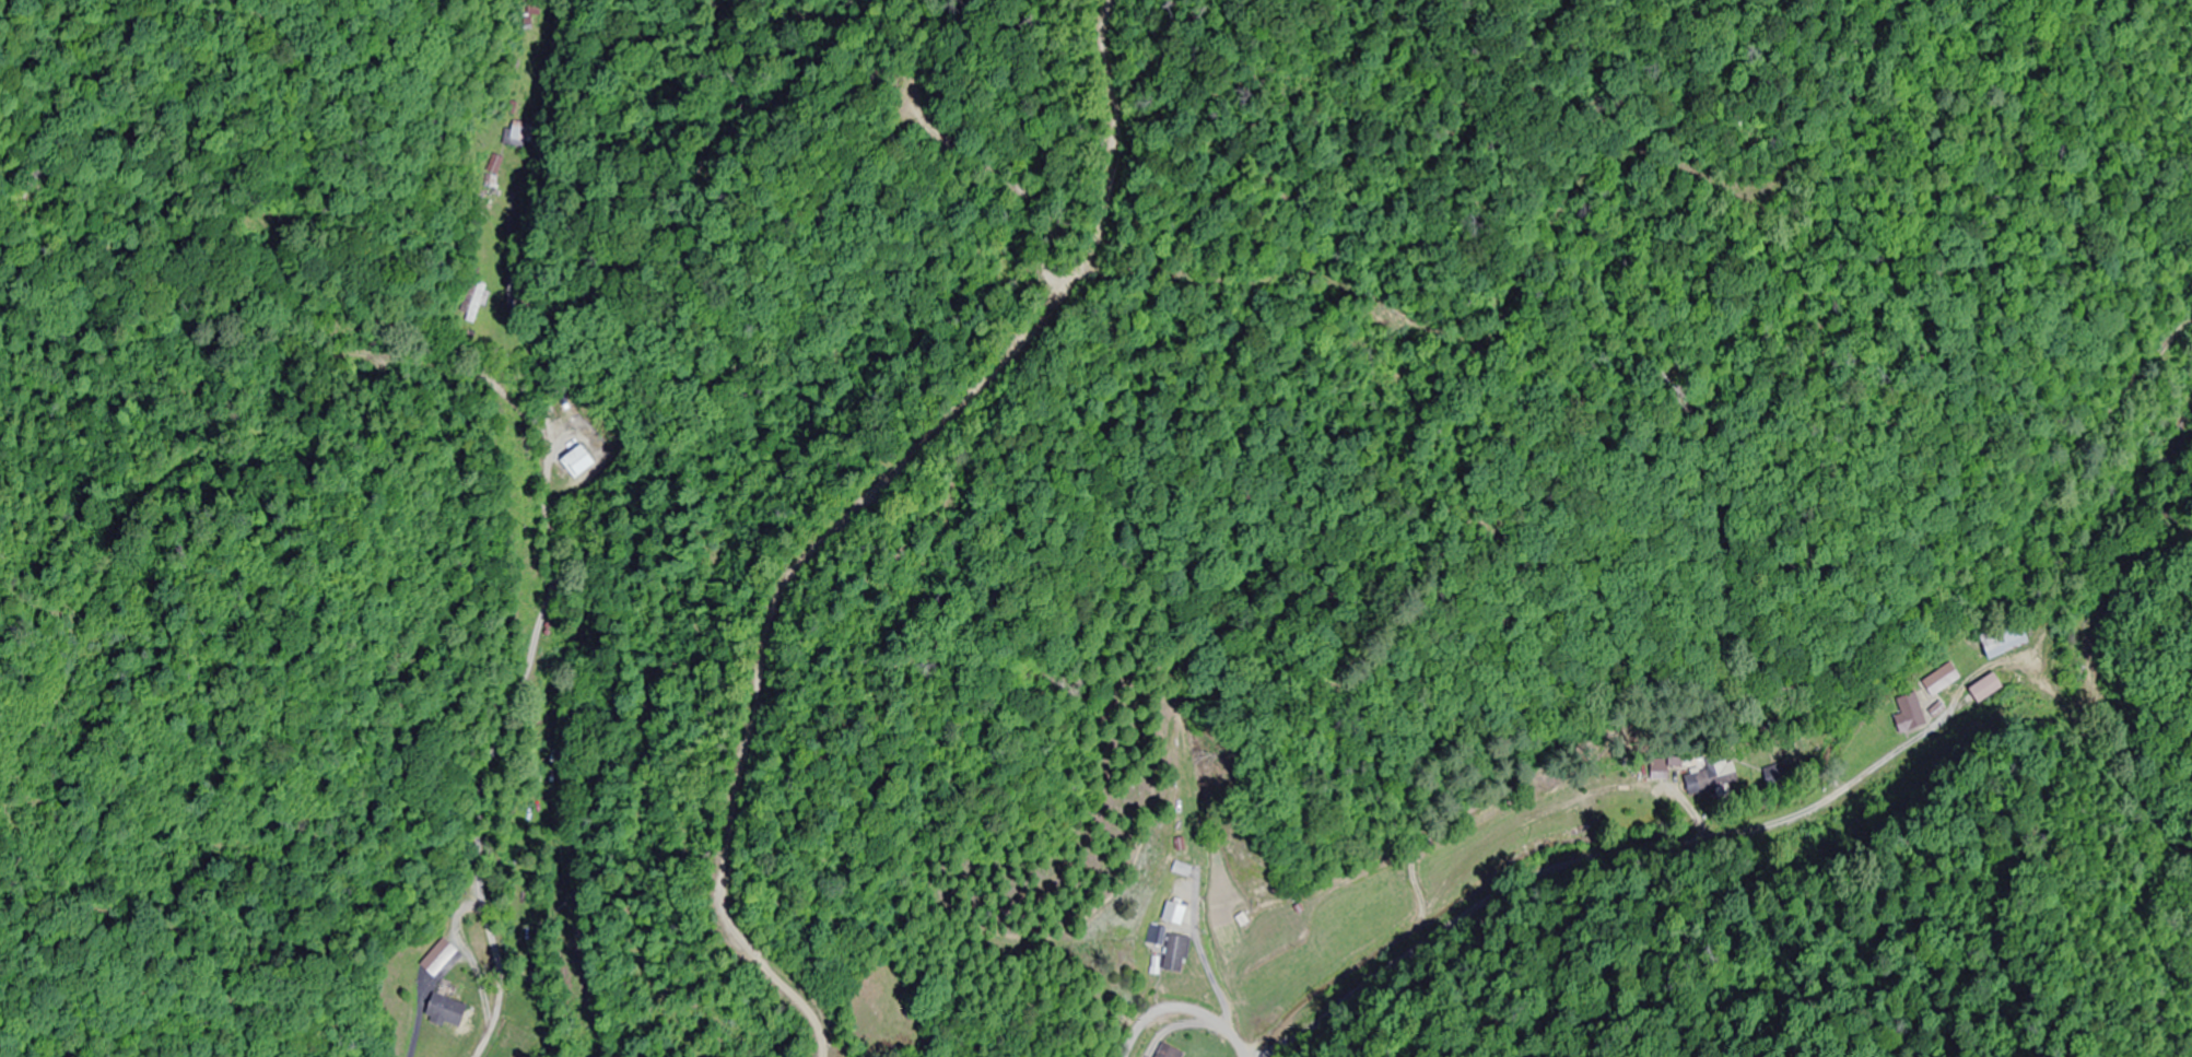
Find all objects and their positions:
building: (531, 16)
building: (523, 133)
building: (582, 463)
building: (2011, 642)
building: (1913, 716)
building: (1662, 774)
building: (1714, 779)
road: (1778, 834)
building: (1177, 914)
building: (1158, 935)
building: (1181, 951)
road: (1181, 1003)
building: (453, 1012)
building: (1172, 1052)

